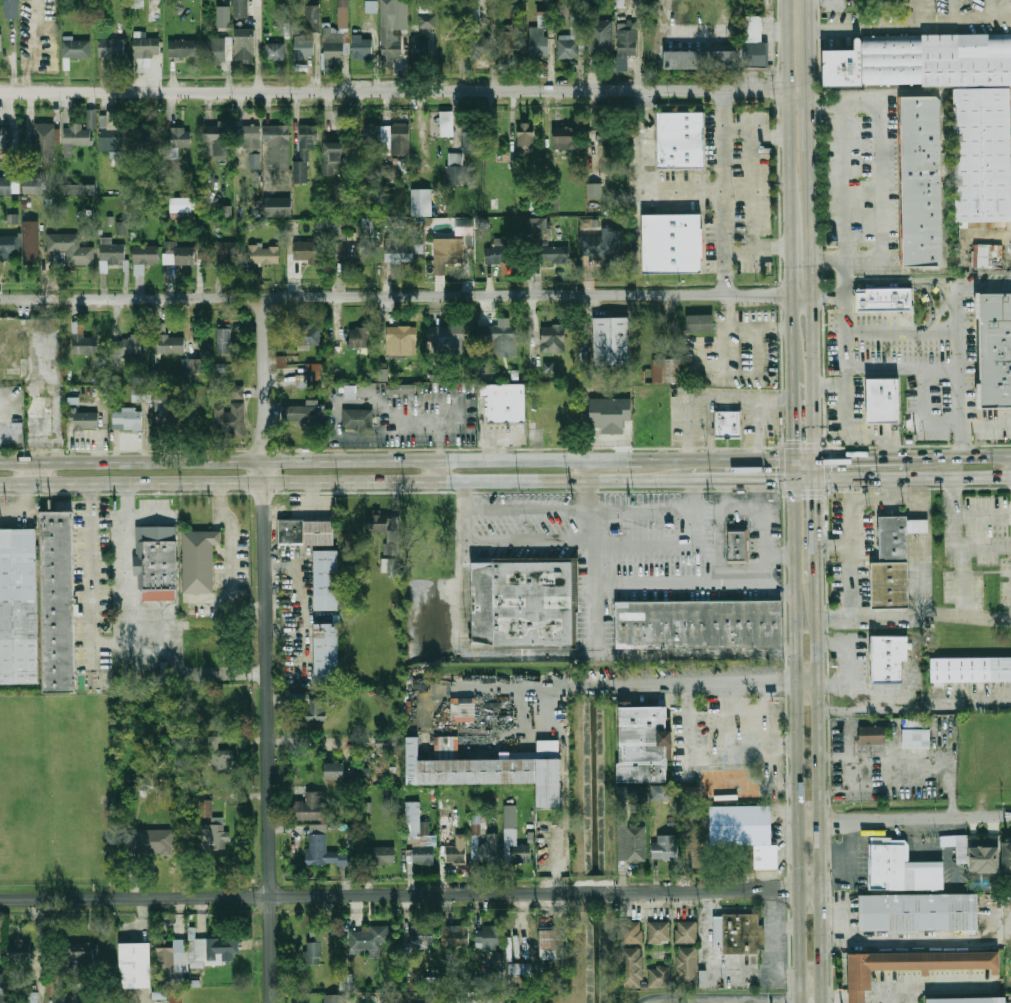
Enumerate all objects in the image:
building: (136, 1)
building: (475, 1)
building: (620, 4)
building: (371, 5)
building: (425, 6)
building: (11, 8)
building: (243, 9)
building: (282, 10)
building: (400, 11)
building: (223, 16)
building: (312, 16)
building: (428, 20)
road: (904, 24)
building: (751, 27)
building: (541, 34)
building: (601, 37)
building: (336, 40)
building: (628, 41)
building: (245, 43)
building: (509, 43)
road: (493, 44)
building: (481, 46)
building: (147, 47)
building: (183, 47)
building: (305, 47)
building: (391, 47)
building: (77, 48)
building: (111, 48)
building: (218, 48)
building: (364, 48)
building: (569, 48)
building: (276, 50)
building: (421, 51)
building: (756, 52)
building: (700, 58)
building: (921, 60)
building: (141, 65)
road: (399, 90)
road: (798, 114)
building: (447, 123)
road: (736, 130)
building: (79, 132)
building: (367, 132)
building: (111, 133)
building: (610, 135)
building: (219, 137)
building: (472, 137)
building: (526, 137)
building: (566, 137)
building: (5, 138)
building: (178, 138)
building: (400, 138)
building: (682, 139)
building: (146, 140)
building: (253, 143)
building: (45, 144)
building: (278, 145)
building: (305, 151)
building: (983, 155)
building: (336, 158)
road: (843, 158)
building: (455, 168)
road: (880, 178)
parking lot: (864, 180)
building: (923, 180)
road: (638, 181)
building: (7, 186)
building: (36, 186)
road: (751, 188)
building: (79, 189)
building: (594, 190)
road: (723, 191)
building: (422, 201)
building: (184, 204)
building: (278, 206)
road: (822, 222)
building: (464, 226)
building: (122, 229)
building: (336, 229)
building: (536, 229)
road: (992, 233)
building: (32, 240)
building: (672, 242)
building: (601, 246)
building: (9, 247)
building: (70, 248)
building: (399, 250)
road: (738, 250)
building: (112, 251)
building: (307, 252)
building: (179, 253)
building: (447, 253)
building: (551, 253)
building: (265, 254)
building: (353, 254)
building: (501, 254)
building: (985, 254)
building: (146, 255)
road: (822, 256)
building: (225, 257)
road: (799, 261)
road: (916, 284)
road: (941, 292)
road: (821, 293)
road: (399, 295)
building: (882, 297)
road: (799, 299)
building: (699, 321)
road: (904, 332)
building: (309, 335)
building: (358, 337)
building: (449, 337)
building: (503, 338)
building: (553, 338)
parking lot: (897, 338)
building: (402, 339)
road: (849, 339)
building: (83, 340)
building: (224, 340)
building: (611, 340)
parking lot: (837, 340)
building: (170, 344)
road: (959, 344)
building: (127, 346)
road: (793, 350)
parking lot: (973, 350)
building: (998, 350)
building: (189, 365)
road: (904, 365)
building: (548, 367)
building: (666, 369)
road: (782, 369)
building: (313, 375)
road: (811, 379)
road: (831, 383)
building: (404, 388)
building: (236, 392)
building: (350, 392)
building: (141, 394)
building: (885, 395)
road: (740, 398)
parking lot: (860, 398)
building: (503, 400)
building: (468, 401)
building: (447, 402)
parking lot: (934, 407)
building: (170, 411)
building: (91, 412)
parking lot: (836, 414)
building: (307, 415)
building: (610, 415)
building: (356, 418)
building: (130, 419)
building: (230, 419)
parking lot: (678, 420)
road: (938, 422)
building: (729, 423)
parking lot: (750, 423)
parking lot: (771, 423)
parking lot: (700, 424)
road: (689, 427)
road: (711, 427)
road: (761, 429)
road: (793, 437)
traffic signals: (794, 441)
road: (825, 444)
road: (390, 449)
road: (943, 456)
traffic signals: (832, 457)
road: (834, 457)
road: (290, 458)
road: (630, 458)
road: (736, 458)
road: (582, 468)
road: (436, 469)
road: (34, 474)
road: (911, 474)
road: (803, 476)
road: (761, 477)
traffic signals: (774, 477)
road: (364, 480)
road: (893, 486)
road: (392, 491)
traffic signals: (814, 497)
road: (907, 497)
road: (726, 498)
road: (755, 498)
road: (814, 499)
road: (20, 510)
road: (464, 510)
road: (526, 510)
road: (655, 510)
road: (758, 510)
street lamp: (656, 516)
street lamp: (529, 518)
parking lot: (741, 518)
road: (917, 521)
building: (920, 521)
road: (925, 521)
parking lot: (776, 524)
street lamp: (623, 527)
building: (307, 528)
building: (385, 530)
parking lot: (529, 534)
building: (896, 534)
road: (231, 535)
road: (846, 535)
parking lot: (653, 537)
road: (528, 541)
road: (830, 542)
building: (739, 544)
parking lot: (756, 544)
road: (958, 544)
street lamp: (696, 552)
building: (159, 560)
building: (200, 561)
road: (723, 562)
building: (388, 565)
building: (328, 576)
road: (924, 579)
road: (651, 581)
building: (892, 581)
road: (779, 587)
building: (58, 601)
building: (523, 602)
building: (18, 606)
road: (914, 615)
parking lot: (609, 624)
building: (698, 624)
road: (111, 643)
road: (269, 648)
building: (329, 650)
building: (889, 656)
road: (609, 659)
road: (849, 660)
building: (971, 665)
road: (807, 682)
road: (833, 682)
road: (736, 683)
road: (623, 685)
road: (507, 686)
road: (913, 705)
building: (316, 708)
building: (462, 709)
building: (909, 723)
building: (875, 731)
building: (919, 736)
road: (797, 740)
building: (386, 742)
building: (640, 743)
road: (755, 745)
road: (826, 746)
building: (444, 747)
road: (787, 747)
building: (216, 753)
building: (360, 754)
building: (527, 754)
building: (336, 771)
building: (485, 772)
road: (818, 772)
building: (731, 785)
building: (661, 792)
building: (692, 792)
building: (310, 807)
building: (510, 816)
building: (445, 817)
road: (904, 819)
building: (738, 823)
building: (215, 833)
building: (419, 834)
building: (493, 839)
building: (153, 841)
building: (629, 842)
building: (663, 847)
building: (961, 849)
building: (328, 853)
building: (456, 854)
building: (521, 854)
building: (380, 855)
building: (765, 856)
building: (985, 857)
building: (1007, 859)
building: (905, 865)
road: (717, 890)
road: (593, 892)
road: (286, 895)
building: (920, 910)
building: (661, 928)
building: (689, 928)
building: (632, 929)
building: (744, 930)
building: (720, 932)
building: (456, 936)
building: (424, 937)
building: (489, 938)
road: (906, 939)
building: (367, 940)
building: (551, 942)
building: (315, 947)
road: (39, 950)
building: (210, 950)
building: (83, 951)
building: (21, 953)
building: (498, 957)
building: (633, 963)
building: (916, 963)
building: (689, 964)
building: (136, 965)
building: (171, 966)
building: (520, 970)
building: (661, 973)
road: (809, 975)
building: (431, 983)
building: (323, 984)
building: (3, 988)
building: (859, 995)
road: (907, 995)
building: (61, 996)
building: (32, 997)
building: (483, 997)
road: (810, 997)
building: (335, 998)
building: (968, 999)
road: (720, 1000)
road: (782, 1000)

